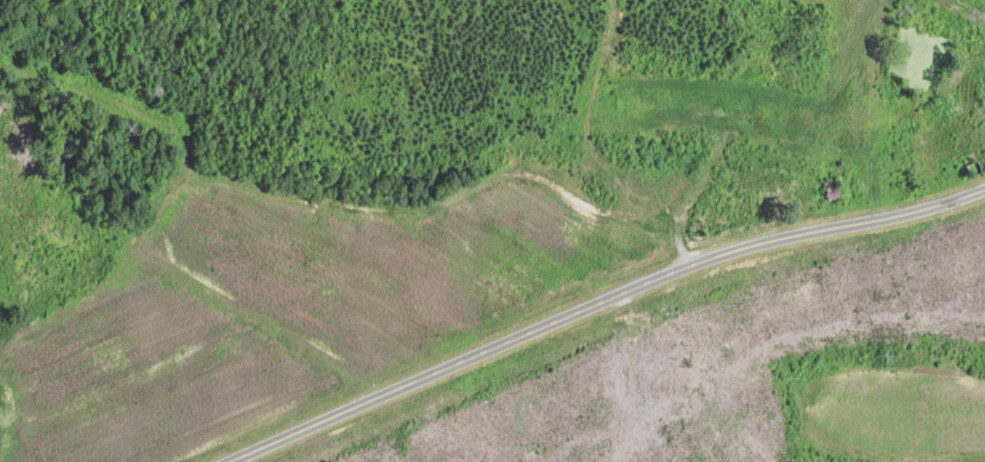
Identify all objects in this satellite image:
road: (597, 300)

